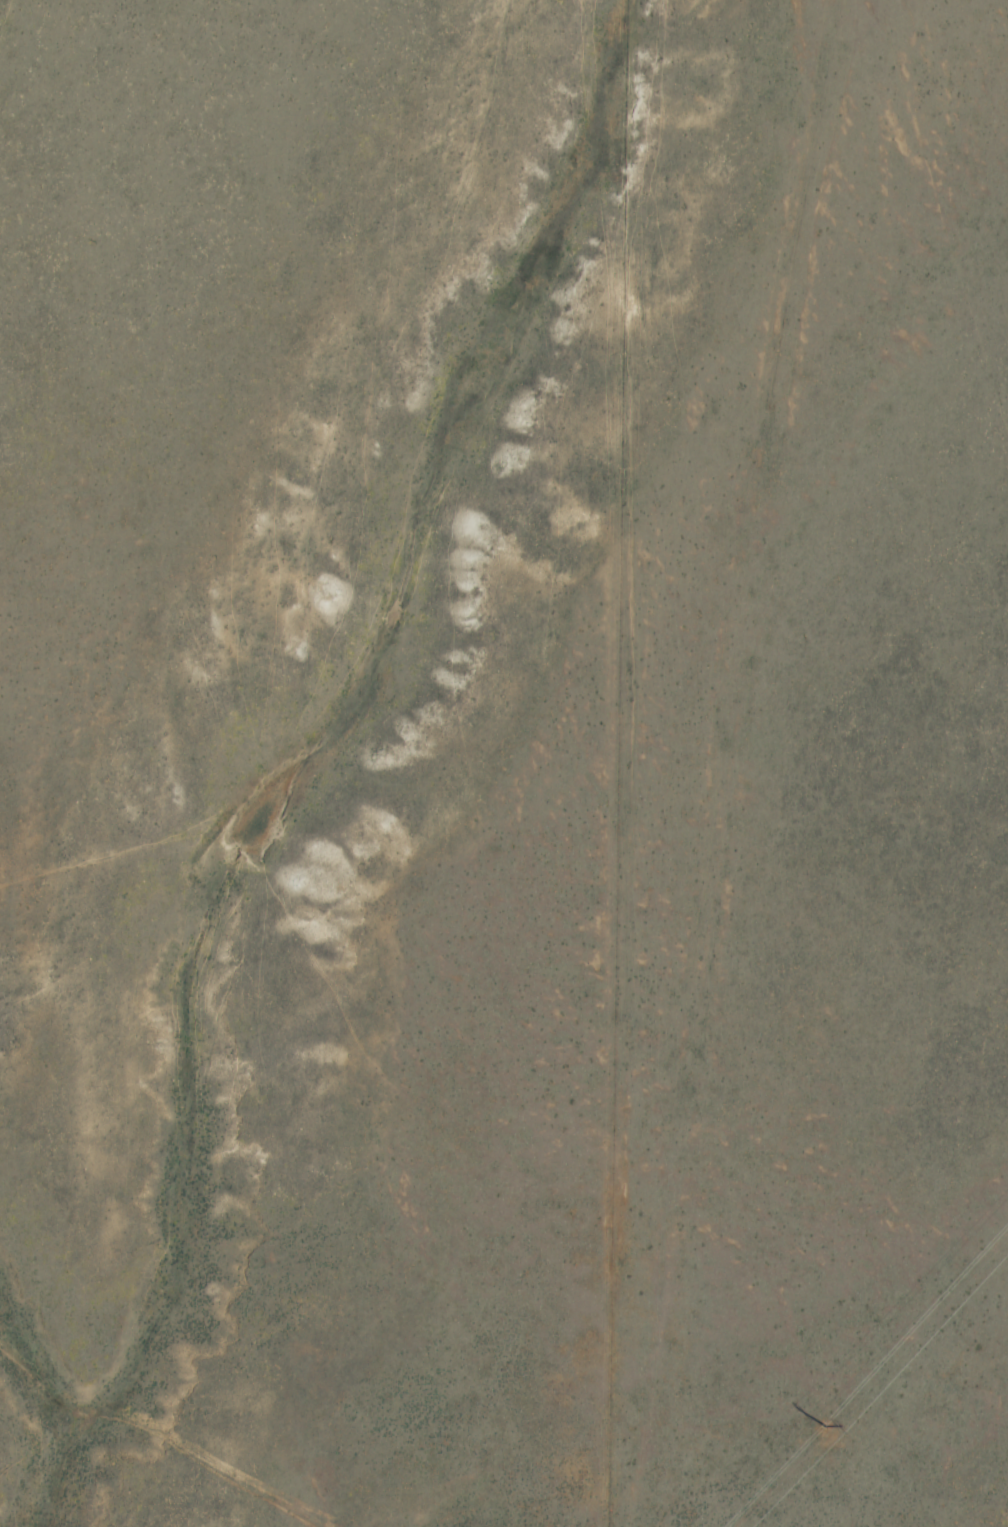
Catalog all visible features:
power tower: (823, 1427)

